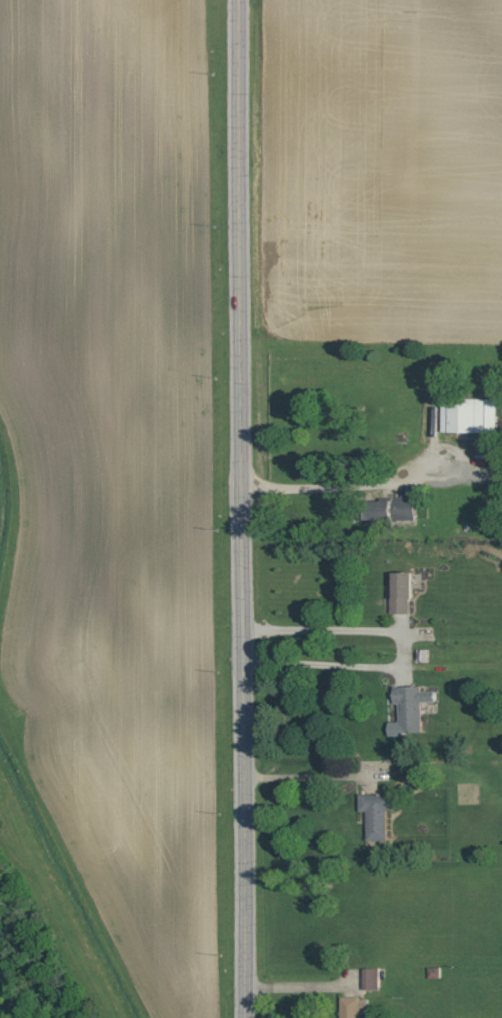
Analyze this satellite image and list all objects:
building: (469, 415)
road: (315, 486)
road: (236, 509)
building: (389, 509)
building: (401, 592)
road: (405, 650)
building: (411, 705)
road: (305, 779)
building: (376, 814)
building: (371, 978)
road: (298, 989)
building: (353, 1007)

